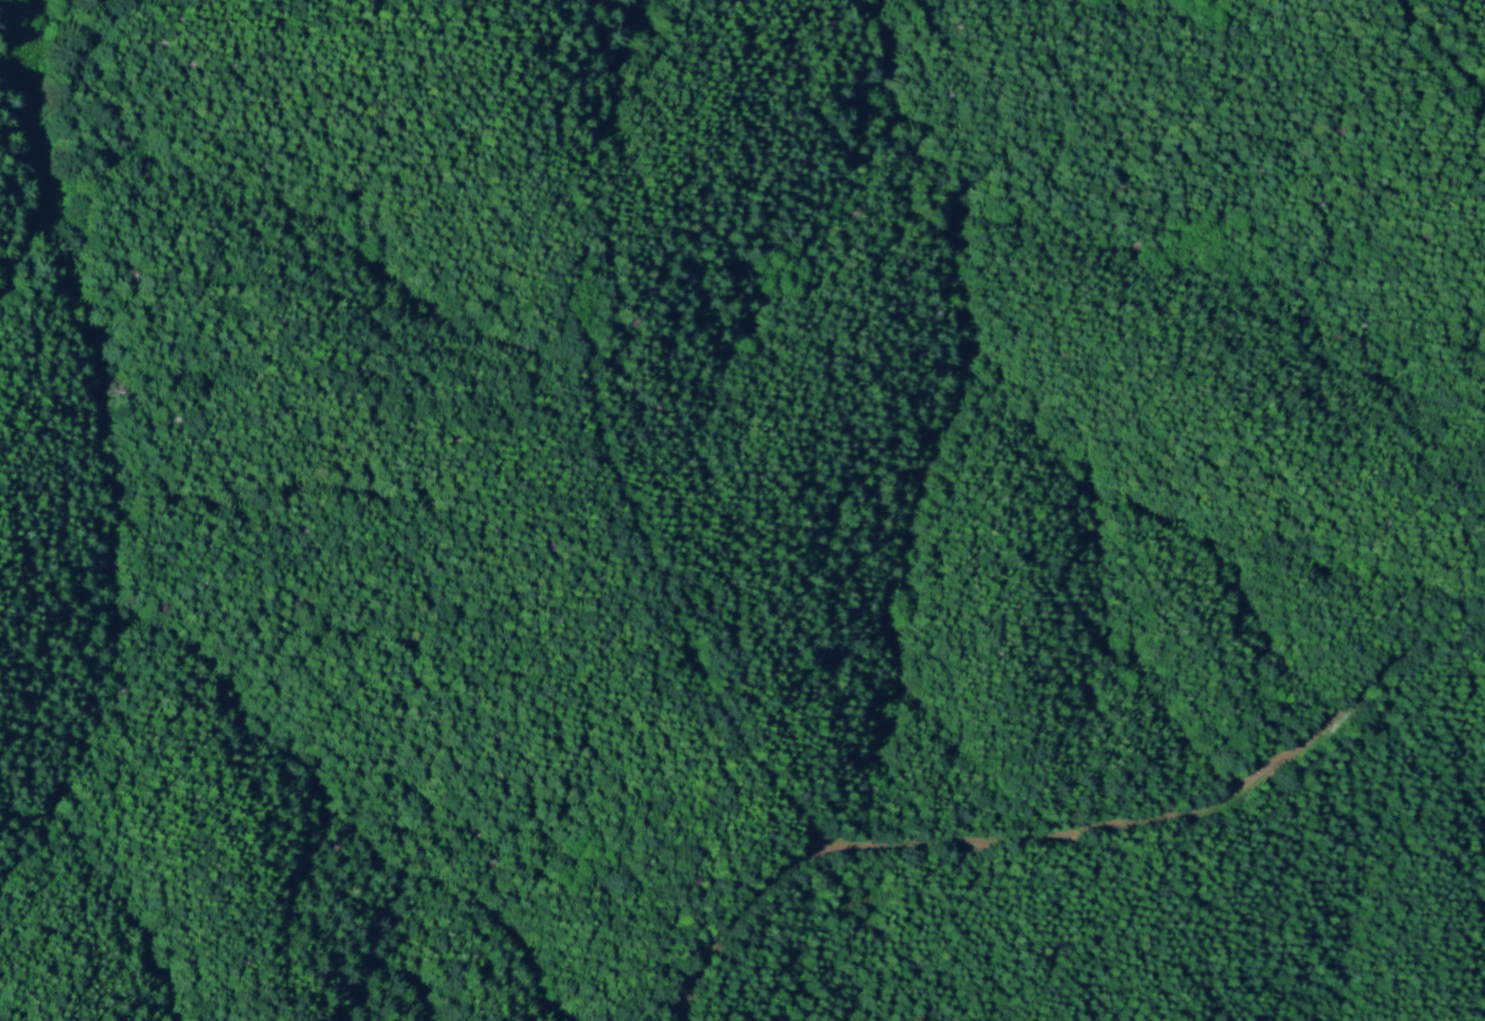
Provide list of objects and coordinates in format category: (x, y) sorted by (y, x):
road: (1262, 318)

